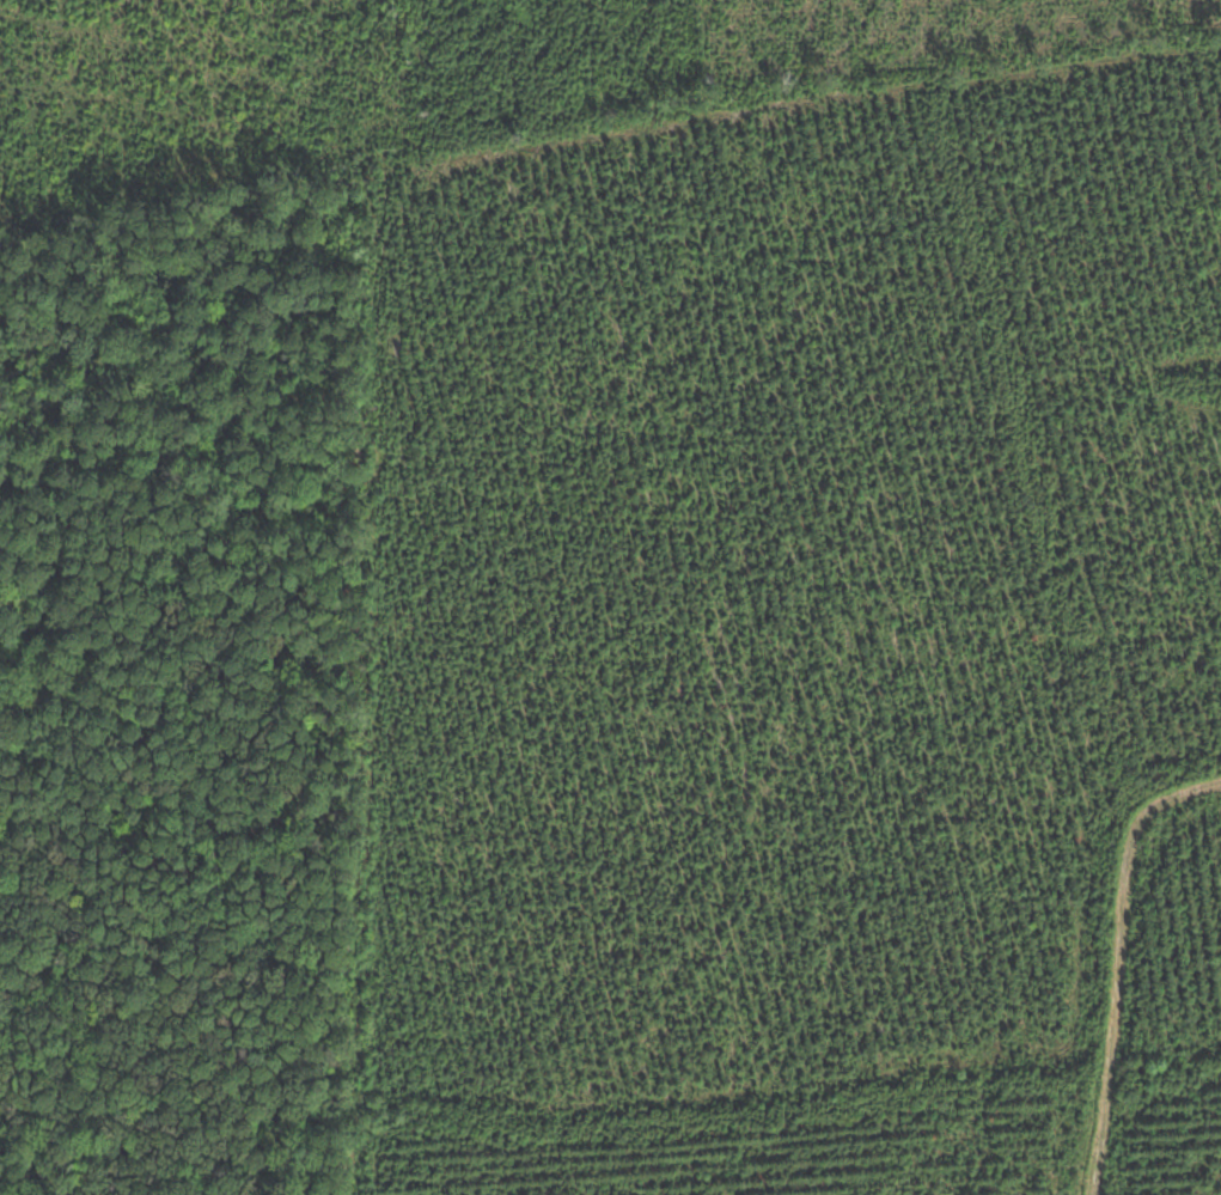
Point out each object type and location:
road: (1085, 922)

